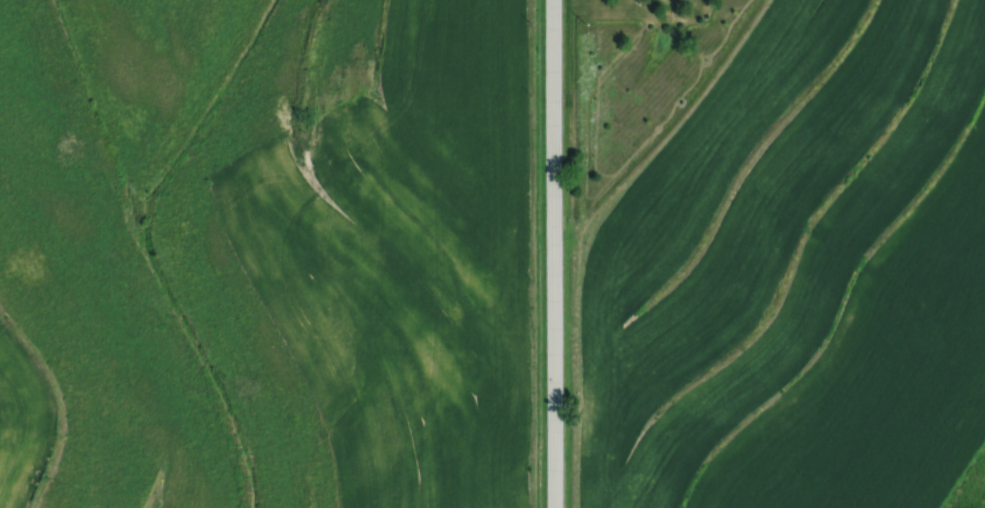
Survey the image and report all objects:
road: (553, 254)

